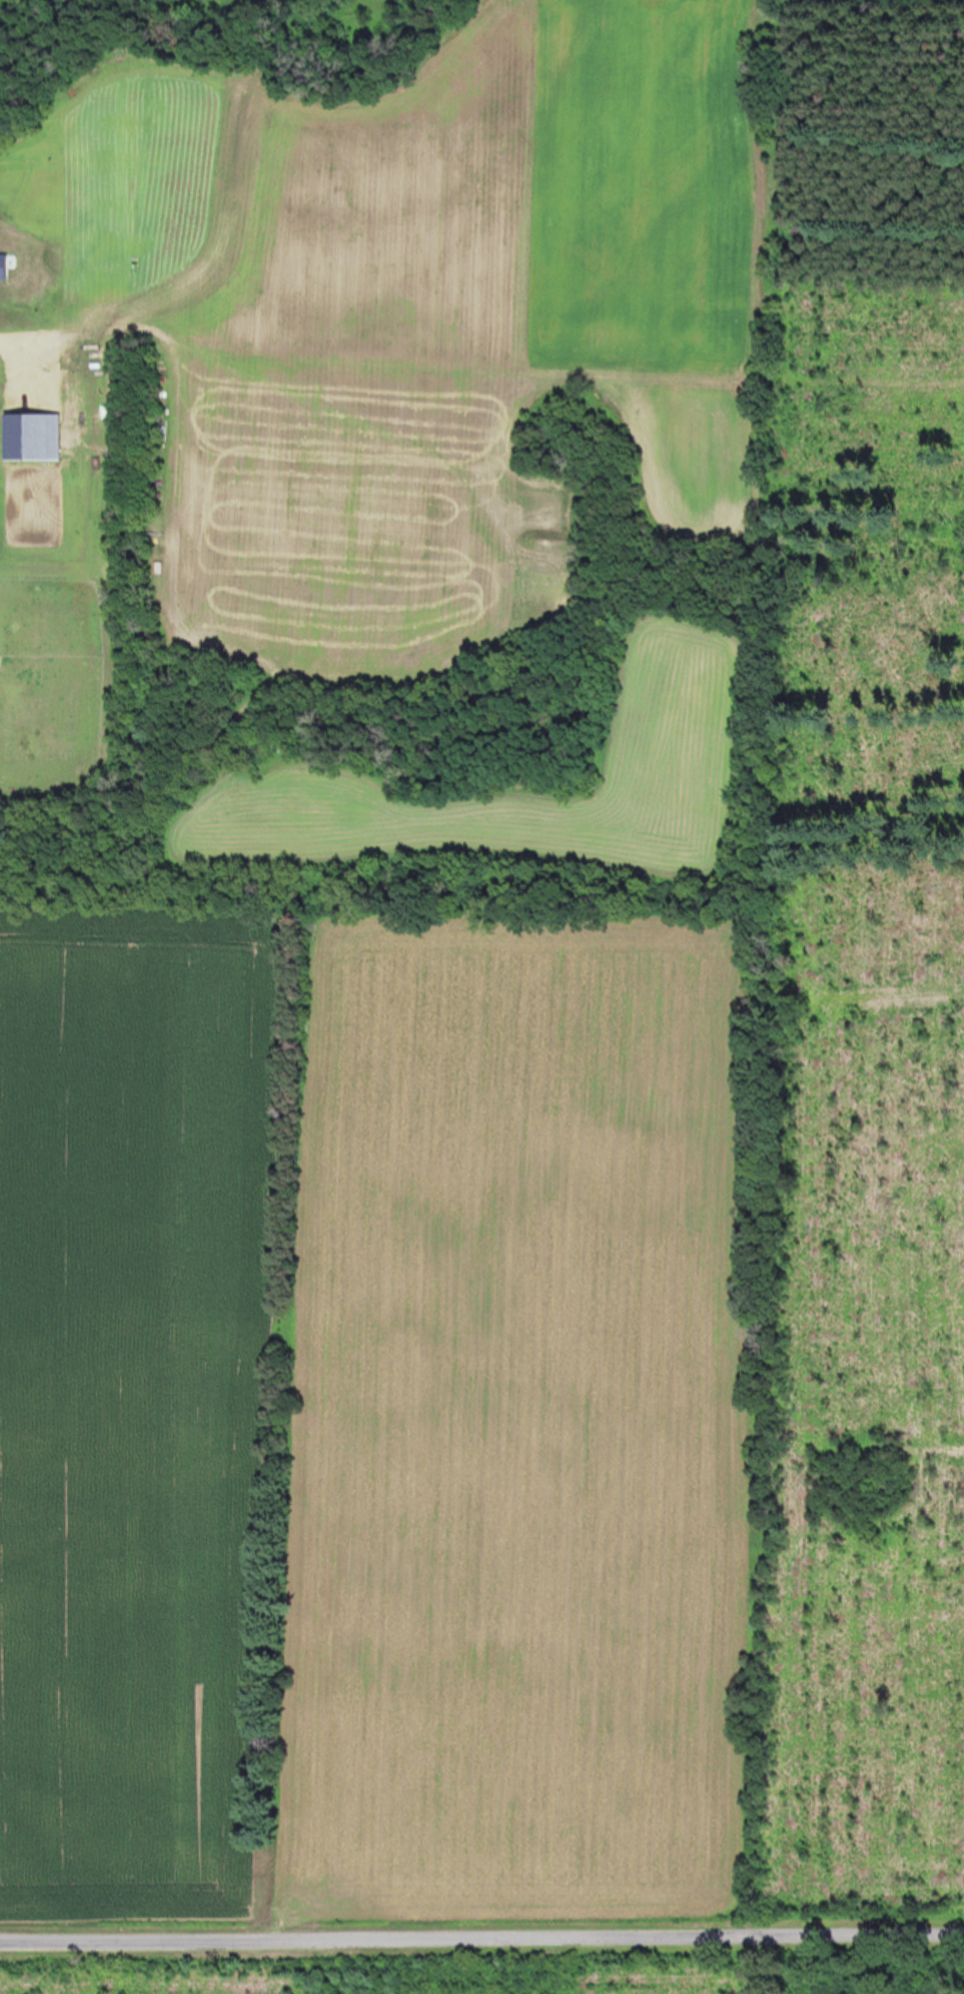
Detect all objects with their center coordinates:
road: (24, 341)
road: (482, 1931)

